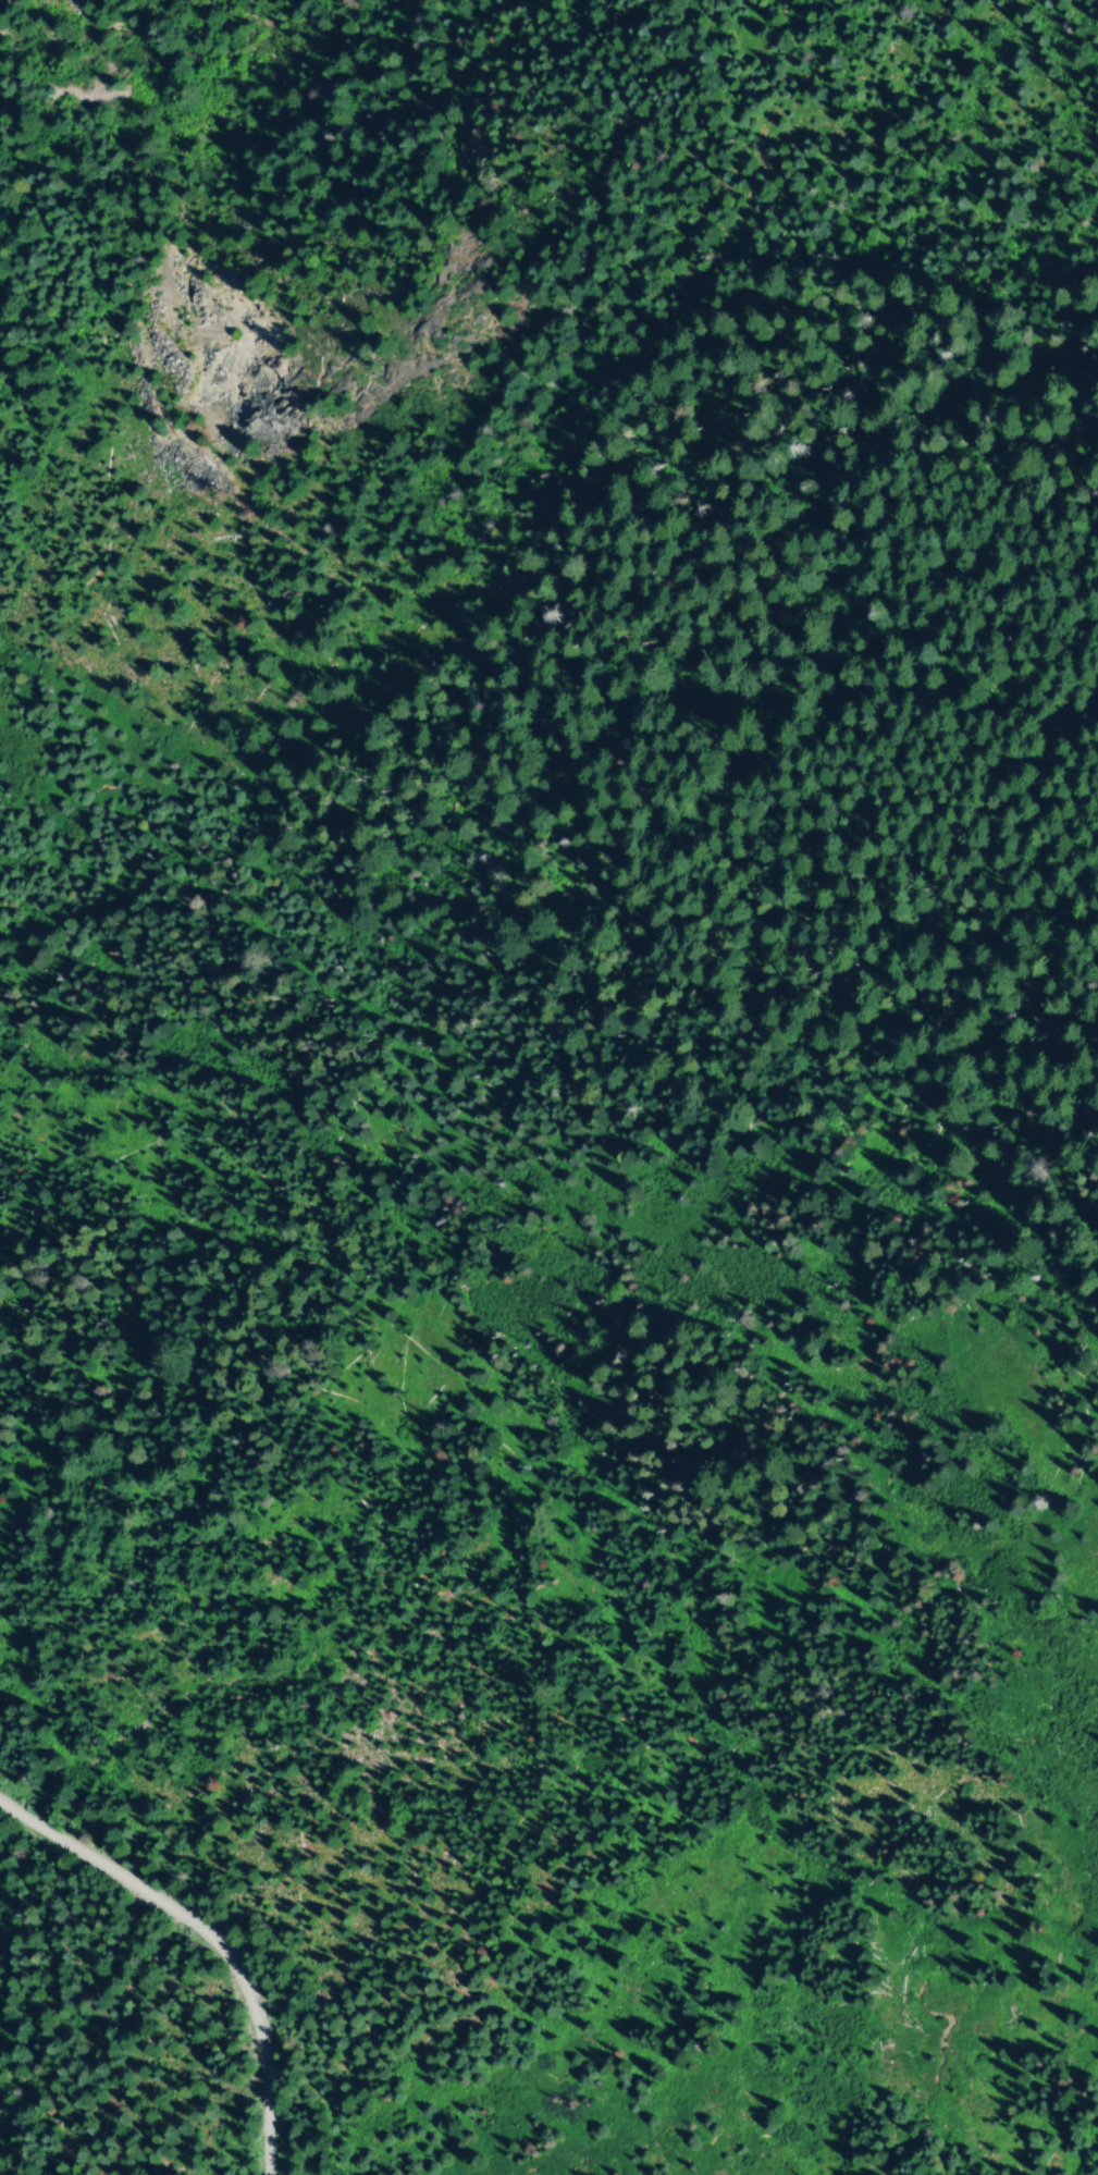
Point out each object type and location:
road: (208, 1941)

